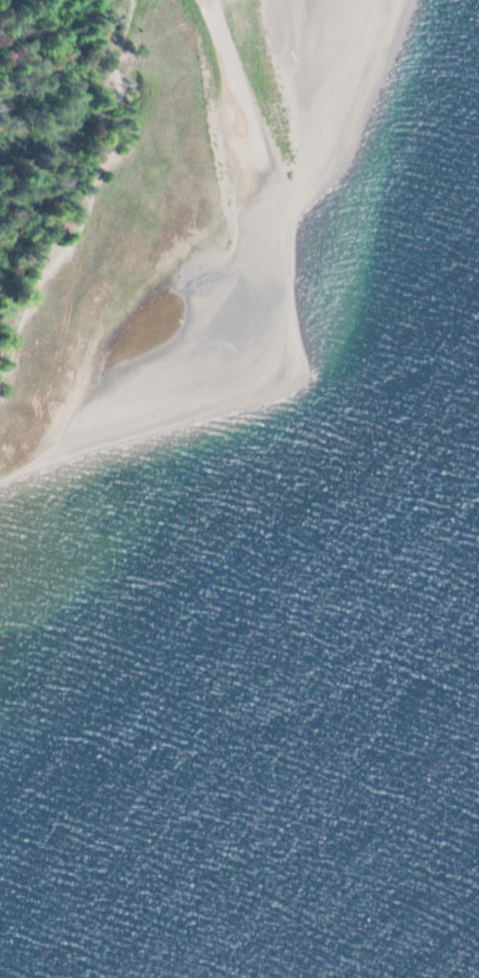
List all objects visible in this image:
road: (236, 93)

